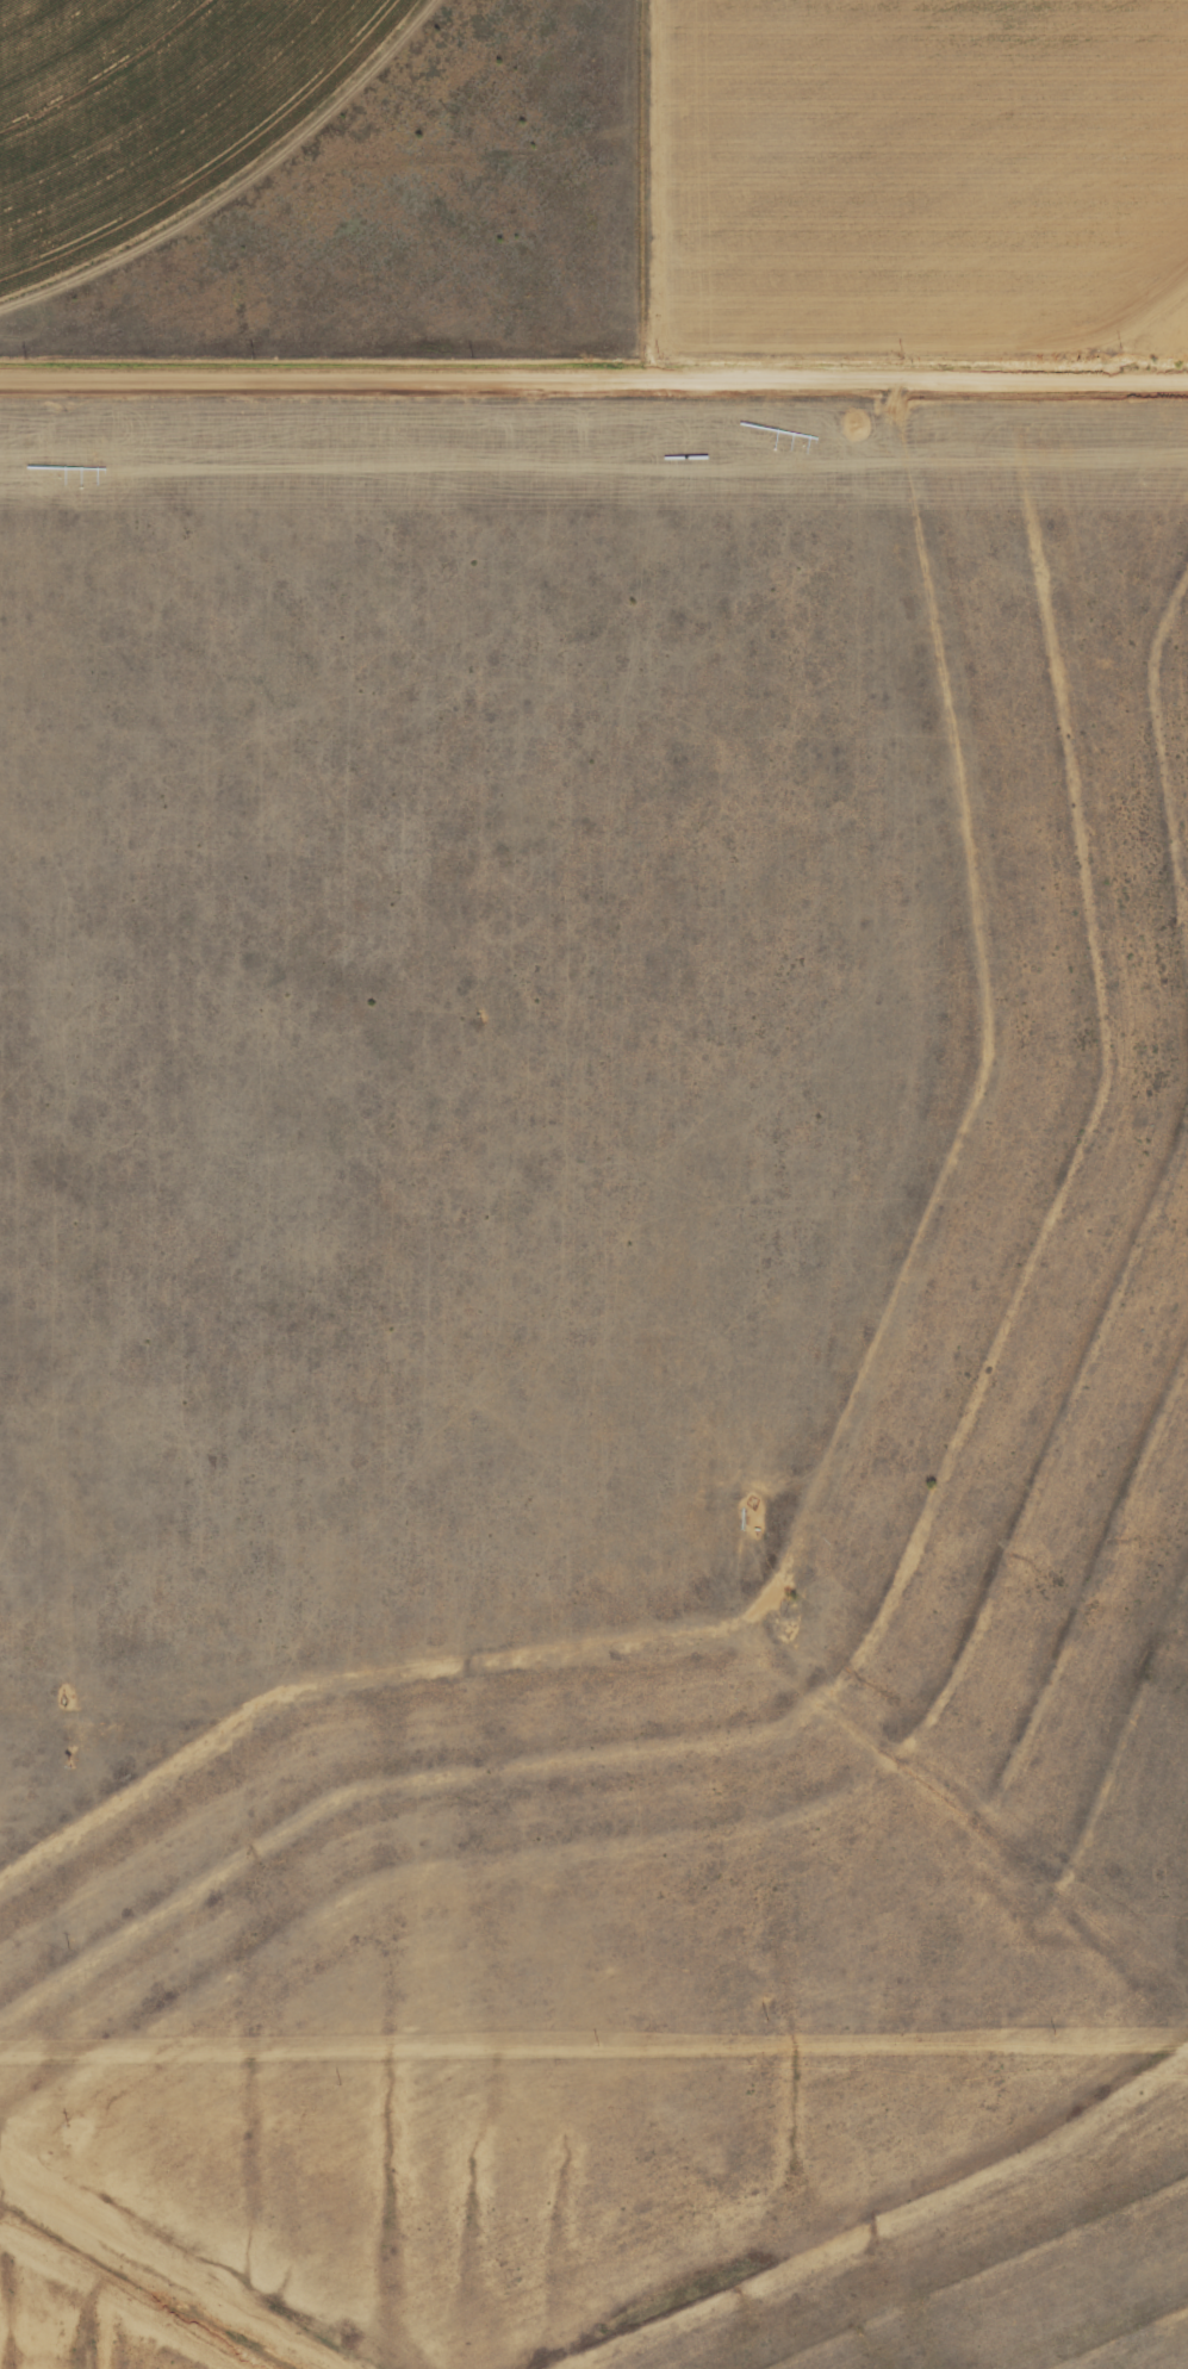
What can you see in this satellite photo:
road: (661, 197)
road: (593, 392)

